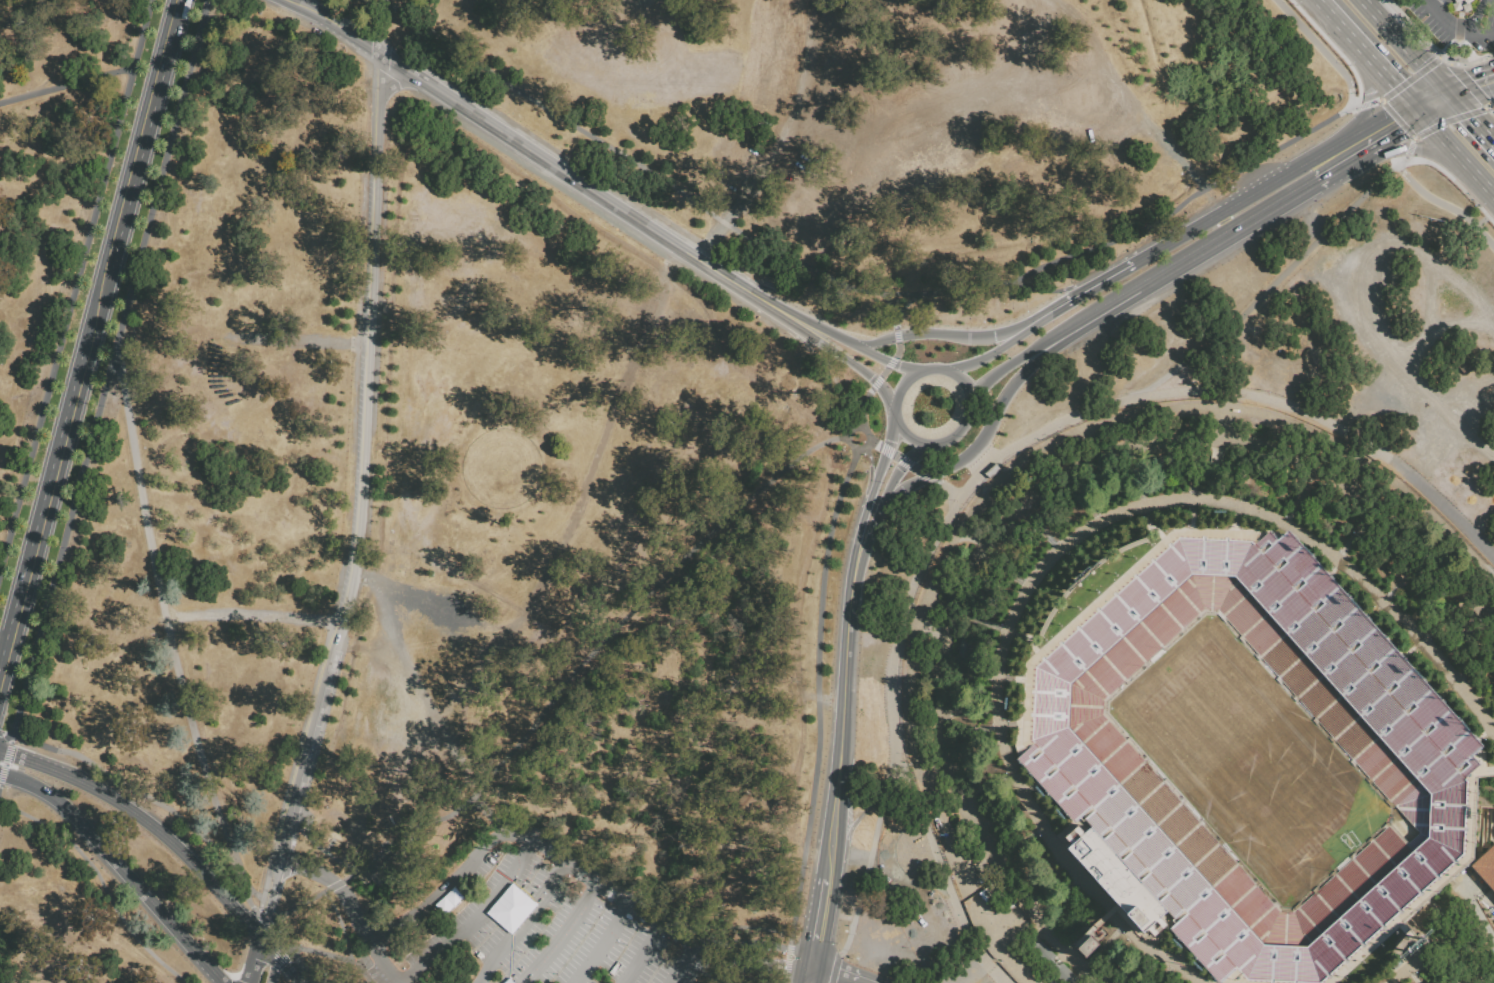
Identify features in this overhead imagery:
building: (1455, 5)
building: (1465, 5)
road: (1475, 17)
road: (1443, 19)
parking lot: (1456, 22)
road: (1339, 25)
road: (380, 26)
road: (1457, 30)
road: (168, 33)
road: (1479, 34)
road: (1406, 46)
road: (1319, 49)
road: (1467, 62)
road: (1411, 77)
road: (1390, 79)
road: (66, 84)
traffic signals: (1396, 85)
traffic signals: (1478, 86)
road: (1471, 87)
road: (1370, 90)
road: (1058, 99)
traffic signals: (1369, 99)
road: (1433, 101)
road: (1367, 104)
road: (1134, 105)
road: (1482, 108)
road: (1404, 110)
road: (1490, 110)
traffic signals: (1470, 117)
road: (1470, 118)
road: (1397, 120)
road: (924, 121)
road: (1374, 121)
traffic signals: (1404, 131)
road: (1399, 133)
road: (509, 137)
road: (1443, 138)
road: (795, 147)
traffic signals: (1405, 147)
road: (1410, 147)
road: (1421, 148)
road: (1325, 150)
road: (628, 160)
road: (1401, 160)
road: (1345, 166)
road: (132, 167)
road: (1481, 181)
road: (1257, 189)
road: (1446, 203)
road: (1178, 208)
road: (1226, 223)
road: (1178, 237)
road: (1178, 267)
road: (75, 283)
road: (738, 285)
road: (1046, 291)
road: (1078, 294)
road: (941, 295)
road: (1350, 295)
road: (769, 307)
road: (95, 308)
road: (891, 312)
road: (804, 319)
road: (1441, 330)
road: (941, 333)
road: (896, 335)
road: (367, 349)
road: (828, 349)
road: (896, 350)
parking lot: (1402, 351)
road: (990, 353)
building: (1469, 359)
road: (885, 360)
road: (889, 361)
road: (108, 367)
road: (824, 369)
road: (998, 369)
road: (883, 371)
road: (912, 373)
road: (876, 381)
road: (964, 383)
road: (882, 390)
road: (1474, 402)
road: (862, 408)
park: (518, 410)
road: (893, 411)
road: (1072, 413)
road: (860, 426)
road: (1333, 429)
road: (956, 432)
road: (905, 436)
road: (977, 442)
road: (872, 444)
road: (916, 450)
road: (886, 451)
road: (885, 452)
road: (896, 457)
road: (906, 460)
road: (905, 462)
road: (870, 465)
building: (1165, 466)
road: (915, 469)
building: (992, 471)
road: (926, 475)
road: (892, 480)
road: (940, 484)
road: (956, 488)
road: (949, 501)
road: (44, 509)
road: (862, 517)
road: (870, 525)
building: (1384, 554)
road: (252, 614)
road: (171, 641)
building: (966, 646)
road: (1, 673)
road: (568, 689)
road: (845, 689)
road: (818, 692)
road: (4, 734)
building: (1076, 755)
road: (5, 757)
stadium: (1232, 761)
park: (1248, 762)
road: (295, 789)
road: (135, 791)
road: (868, 796)
road: (486, 810)
building: (738, 814)
road: (170, 841)
road: (525, 842)
road: (831, 855)
road: (874, 856)
road: (119, 867)
building: (383, 869)
building: (1488, 870)
road: (946, 871)
road: (97, 883)
road: (922, 886)
road: (337, 888)
building: (1002, 906)
road: (839, 917)
road: (474, 921)
road: (266, 923)
road: (821, 923)
road: (521, 924)
parking lot: (526, 925)
road: (559, 935)
road: (598, 946)
building: (1087, 947)
road: (278, 953)
road: (751, 953)
road: (297, 955)
road: (332, 955)
road: (641, 955)
road: (253, 959)
road: (786, 961)
road: (677, 963)
road: (389, 964)
building: (1049, 965)
road: (835, 966)
building: (991, 968)
road: (272, 975)
road: (810, 975)
road: (834, 975)

